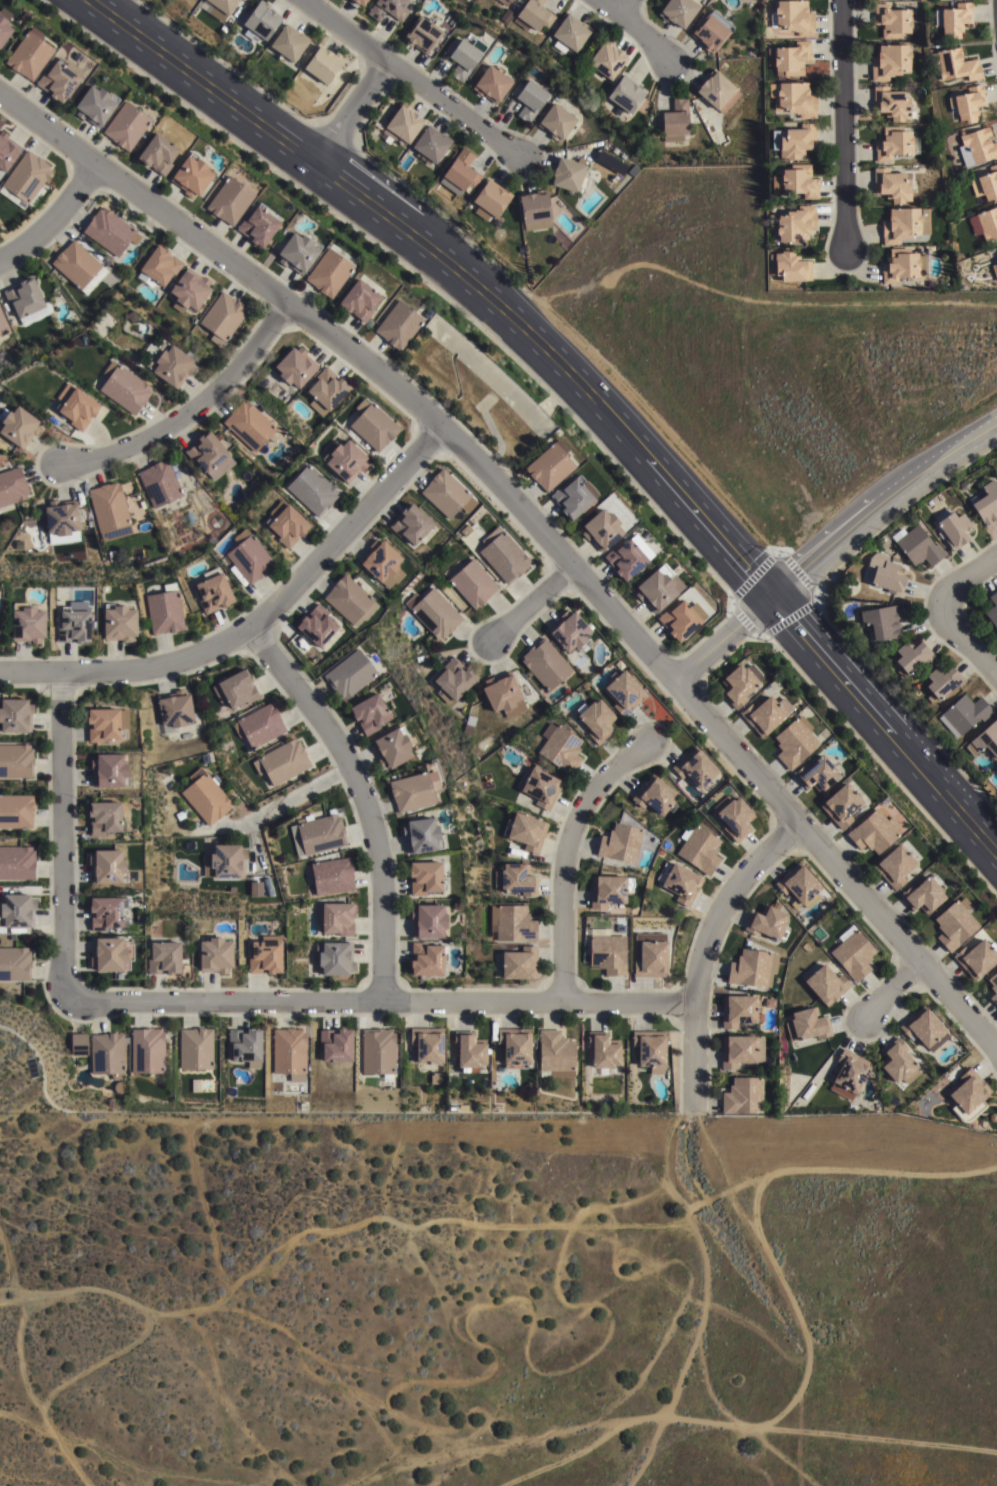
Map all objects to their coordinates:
building: (506, 2)
building: (360, 3)
building: (219, 7)
road: (624, 7)
building: (388, 9)
building: (678, 13)
building: (506, 16)
building: (534, 16)
building: (25, 17)
building: (794, 18)
building: (953, 20)
building: (891, 21)
building: (261, 23)
building: (4, 26)
road: (636, 28)
building: (712, 32)
building: (572, 34)
building: (422, 36)
building: (289, 45)
building: (30, 55)
building: (463, 58)
building: (791, 59)
building: (608, 61)
building: (889, 63)
building: (323, 66)
building: (954, 66)
road: (412, 76)
building: (58, 83)
building: (492, 86)
building: (717, 93)
building: (628, 97)
building: (529, 100)
building: (794, 100)
building: (890, 105)
building: (967, 105)
building: (96, 107)
road: (352, 112)
building: (674, 122)
building: (558, 124)
road: (842, 124)
building: (127, 127)
building: (403, 128)
building: (794, 142)
building: (895, 145)
building: (979, 146)
building: (431, 147)
building: (7, 154)
building: (159, 156)
building: (611, 161)
building: (191, 172)
building: (462, 172)
building: (569, 178)
building: (26, 182)
building: (797, 184)
building: (986, 186)
building: (890, 187)
building: (230, 198)
building: (491, 203)
building: (536, 213)
road: (53, 217)
building: (257, 222)
building: (985, 225)
building: (794, 226)
building: (903, 227)
building: (109, 229)
building: (297, 249)
building: (996, 252)
building: (996, 257)
building: (159, 263)
building: (79, 264)
building: (902, 267)
building: (330, 268)
road: (455, 270)
building: (790, 270)
building: (995, 271)
building: (189, 288)
building: (359, 297)
building: (26, 300)
building: (428, 311)
building: (223, 315)
building: (3, 323)
building: (399, 323)
building: (171, 361)
building: (294, 365)
building: (125, 386)
building: (326, 388)
building: (77, 404)
road: (189, 412)
building: (248, 423)
building: (19, 424)
building: (373, 424)
building: (208, 452)
building: (345, 458)
building: (549, 464)
building: (159, 481)
building: (12, 485)
building: (312, 488)
building: (447, 493)
building: (571, 495)
building: (986, 502)
building: (109, 505)
road: (881, 509)
building: (63, 521)
building: (411, 521)
building: (286, 522)
building: (952, 525)
road: (538, 528)
building: (601, 528)
building: (169, 530)
building: (918, 546)
building: (96, 552)
building: (503, 553)
building: (112, 555)
building: (248, 556)
building: (625, 557)
building: (383, 562)
building: (887, 576)
road: (966, 578)
building: (473, 582)
building: (658, 586)
building: (213, 590)
building: (350, 599)
traffic signals: (772, 600)
road: (531, 604)
building: (316, 607)
building: (992, 609)
building: (164, 611)
building: (434, 612)
building: (681, 618)
building: (119, 621)
building: (881, 621)
building: (28, 623)
road: (256, 623)
building: (74, 624)
building: (316, 627)
building: (570, 630)
road: (723, 641)
road: (967, 643)
building: (912, 655)
building: (425, 657)
building: (544, 663)
building: (349, 673)
building: (453, 681)
building: (941, 682)
building: (736, 684)
building: (235, 688)
building: (623, 690)
building: (503, 695)
building: (174, 709)
building: (371, 713)
building: (764, 713)
building: (963, 713)
building: (15, 714)
building: (595, 719)
building: (106, 723)
road: (884, 724)
building: (259, 725)
building: (824, 733)
building: (985, 740)
building: (793, 741)
building: (392, 747)
building: (560, 747)
building: (423, 752)
building: (16, 760)
building: (282, 761)
building: (695, 767)
building: (110, 770)
building: (815, 773)
building: (538, 786)
building: (412, 792)
road: (294, 795)
building: (655, 795)
building: (205, 796)
road: (363, 798)
building: (840, 804)
building: (16, 811)
building: (181, 814)
building: (105, 817)
building: (734, 817)
building: (525, 831)
building: (873, 832)
building: (318, 834)
building: (423, 835)
road: (62, 837)
building: (620, 843)
building: (699, 849)
road: (564, 859)
building: (224, 861)
building: (17, 862)
building: (894, 865)
building: (108, 867)
building: (332, 876)
building: (426, 878)
building: (515, 880)
building: (681, 883)
building: (799, 885)
building: (608, 890)
building: (922, 894)
building: (17, 911)
building: (106, 913)
building: (336, 918)
building: (428, 921)
building: (511, 923)
building: (768, 923)
building: (954, 923)
building: (619, 928)
road: (703, 949)
building: (607, 952)
building: (853, 953)
building: (111, 954)
building: (215, 955)
building: (265, 955)
building: (649, 955)
building: (163, 958)
building: (334, 958)
building: (976, 958)
building: (427, 959)
building: (15, 963)
building: (519, 964)
building: (749, 968)
building: (826, 985)
building: (993, 988)
road: (889, 991)
road: (378, 1001)
building: (769, 1002)
building: (738, 1011)
building: (808, 1026)
building: (923, 1030)
building: (79, 1045)
building: (428, 1045)
building: (336, 1046)
building: (245, 1047)
building: (195, 1049)
building: (516, 1049)
building: (650, 1050)
building: (148, 1051)
building: (378, 1051)
building: (602, 1051)
building: (741, 1051)
building: (469, 1052)
building: (289, 1053)
building: (557, 1054)
building: (108, 1055)
building: (897, 1063)
building: (849, 1074)
building: (436, 1078)
building: (195, 1086)
building: (743, 1097)
building: (968, 1097)

